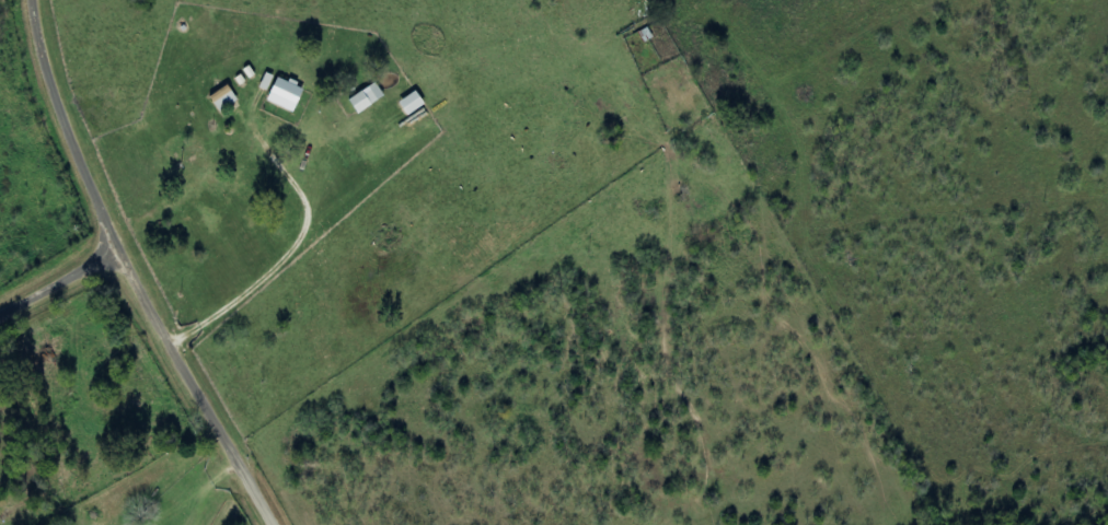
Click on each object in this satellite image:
building: (286, 94)
building: (368, 97)
building: (413, 103)
road: (137, 271)
road: (62, 284)

